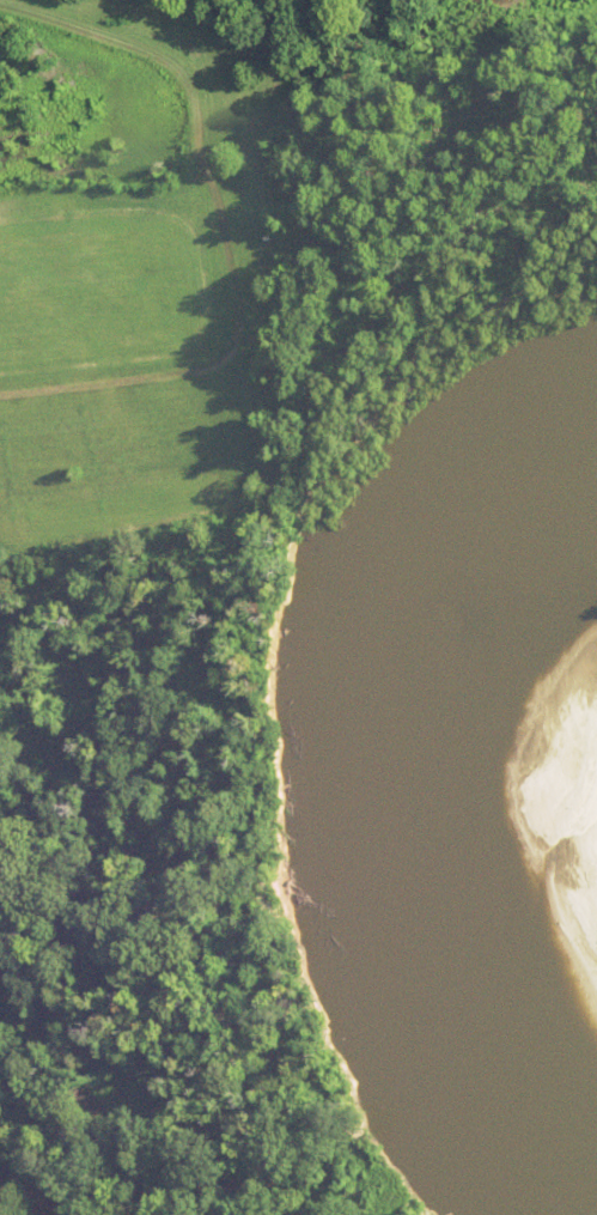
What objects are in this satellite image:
river: (361, 800)

